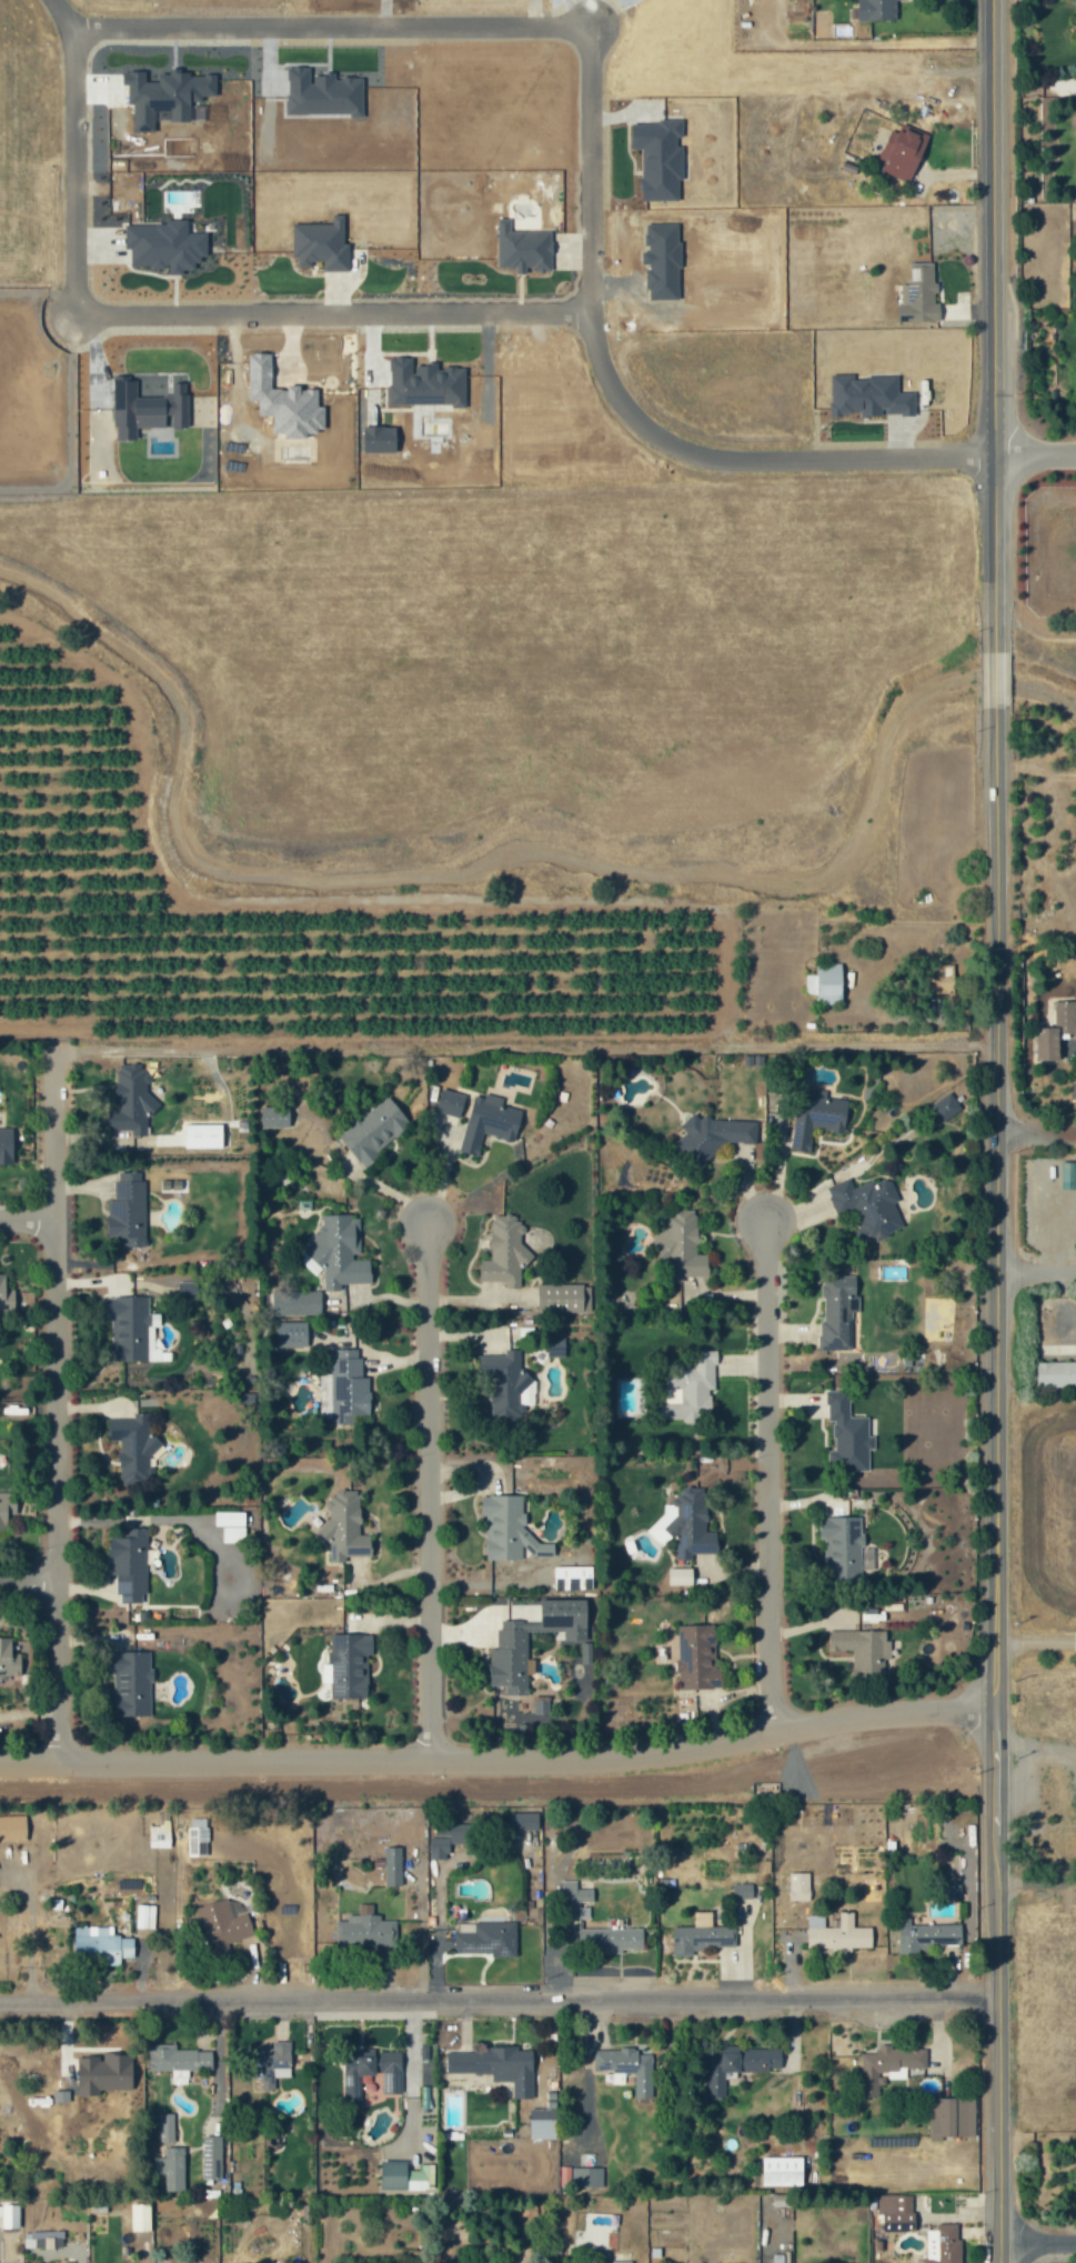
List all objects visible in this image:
building: (904, 0)
building: (877, 9)
road: (464, 26)
building: (902, 153)
building: (919, 294)
road: (406, 314)
road: (988, 322)
road: (1033, 449)
road: (990, 673)
building: (943, 979)
building: (826, 983)
building: (1056, 1031)
building: (131, 1100)
building: (450, 1103)
building: (945, 1108)
building: (275, 1117)
building: (816, 1117)
building: (491, 1120)
road: (1034, 1127)
building: (374, 1130)
building: (203, 1135)
building: (712, 1136)
building: (7, 1146)
building: (1068, 1175)
building: (868, 1204)
building: (128, 1209)
road: (24, 1215)
building: (682, 1245)
building: (340, 1252)
building: (505, 1253)
road: (1034, 1269)
building: (7, 1295)
building: (566, 1298)
building: (300, 1304)
building: (837, 1315)
building: (133, 1330)
building: (291, 1334)
building: (1056, 1374)
building: (509, 1384)
building: (349, 1388)
building: (691, 1389)
road: (51, 1400)
building: (848, 1435)
building: (134, 1449)
road: (762, 1471)
road: (992, 1482)
road: (423, 1486)
building: (7, 1508)
building: (686, 1523)
building: (231, 1525)
building: (345, 1526)
building: (507, 1529)
building: (842, 1543)
building: (130, 1565)
road: (26, 1576)
building: (680, 1576)
building: (573, 1578)
building: (512, 1645)
building: (863, 1650)
building: (585, 1652)
building: (698, 1658)
building: (9, 1659)
building: (350, 1665)
building: (132, 1684)
building: (543, 1698)
road: (496, 1754)
building: (520, 1815)
building: (10, 1822)
building: (455, 1828)
building: (157, 1830)
building: (193, 1831)
building: (435, 1841)
building: (1069, 1841)
building: (386, 1860)
building: (951, 1871)
building: (795, 1880)
building: (570, 1884)
building: (738, 1884)
building: (947, 1884)
building: (742, 1890)
building: (52, 1897)
building: (141, 1911)
building: (813, 1915)
building: (832, 1917)
building: (218, 1920)
building: (461, 1921)
building: (362, 1923)
building: (97, 1925)
building: (836, 1930)
building: (922, 1930)
building: (696, 1932)
building: (484, 1933)
building: (606, 1933)
building: (97, 1942)
road: (497, 1994)
building: (173, 2054)
building: (264, 2055)
building: (735, 2060)
building: (883, 2060)
building: (363, 2061)
building: (494, 2061)
building: (624, 2061)
building: (57, 2063)
building: (279, 2066)
building: (894, 2069)
building: (614, 2072)
building: (388, 2076)
building: (57, 2090)
building: (946, 2113)
building: (539, 2117)
building: (162, 2122)
building: (209, 2151)
building: (168, 2163)
building: (778, 2165)
building: (583, 2172)
building: (406, 2175)
building: (782, 2200)
building: (892, 2206)
building: (9, 2215)
building: (141, 2216)
building: (591, 2236)
road: (1035, 2236)
building: (43, 2239)
building: (927, 2239)
building: (942, 2243)
building: (621, 2256)

